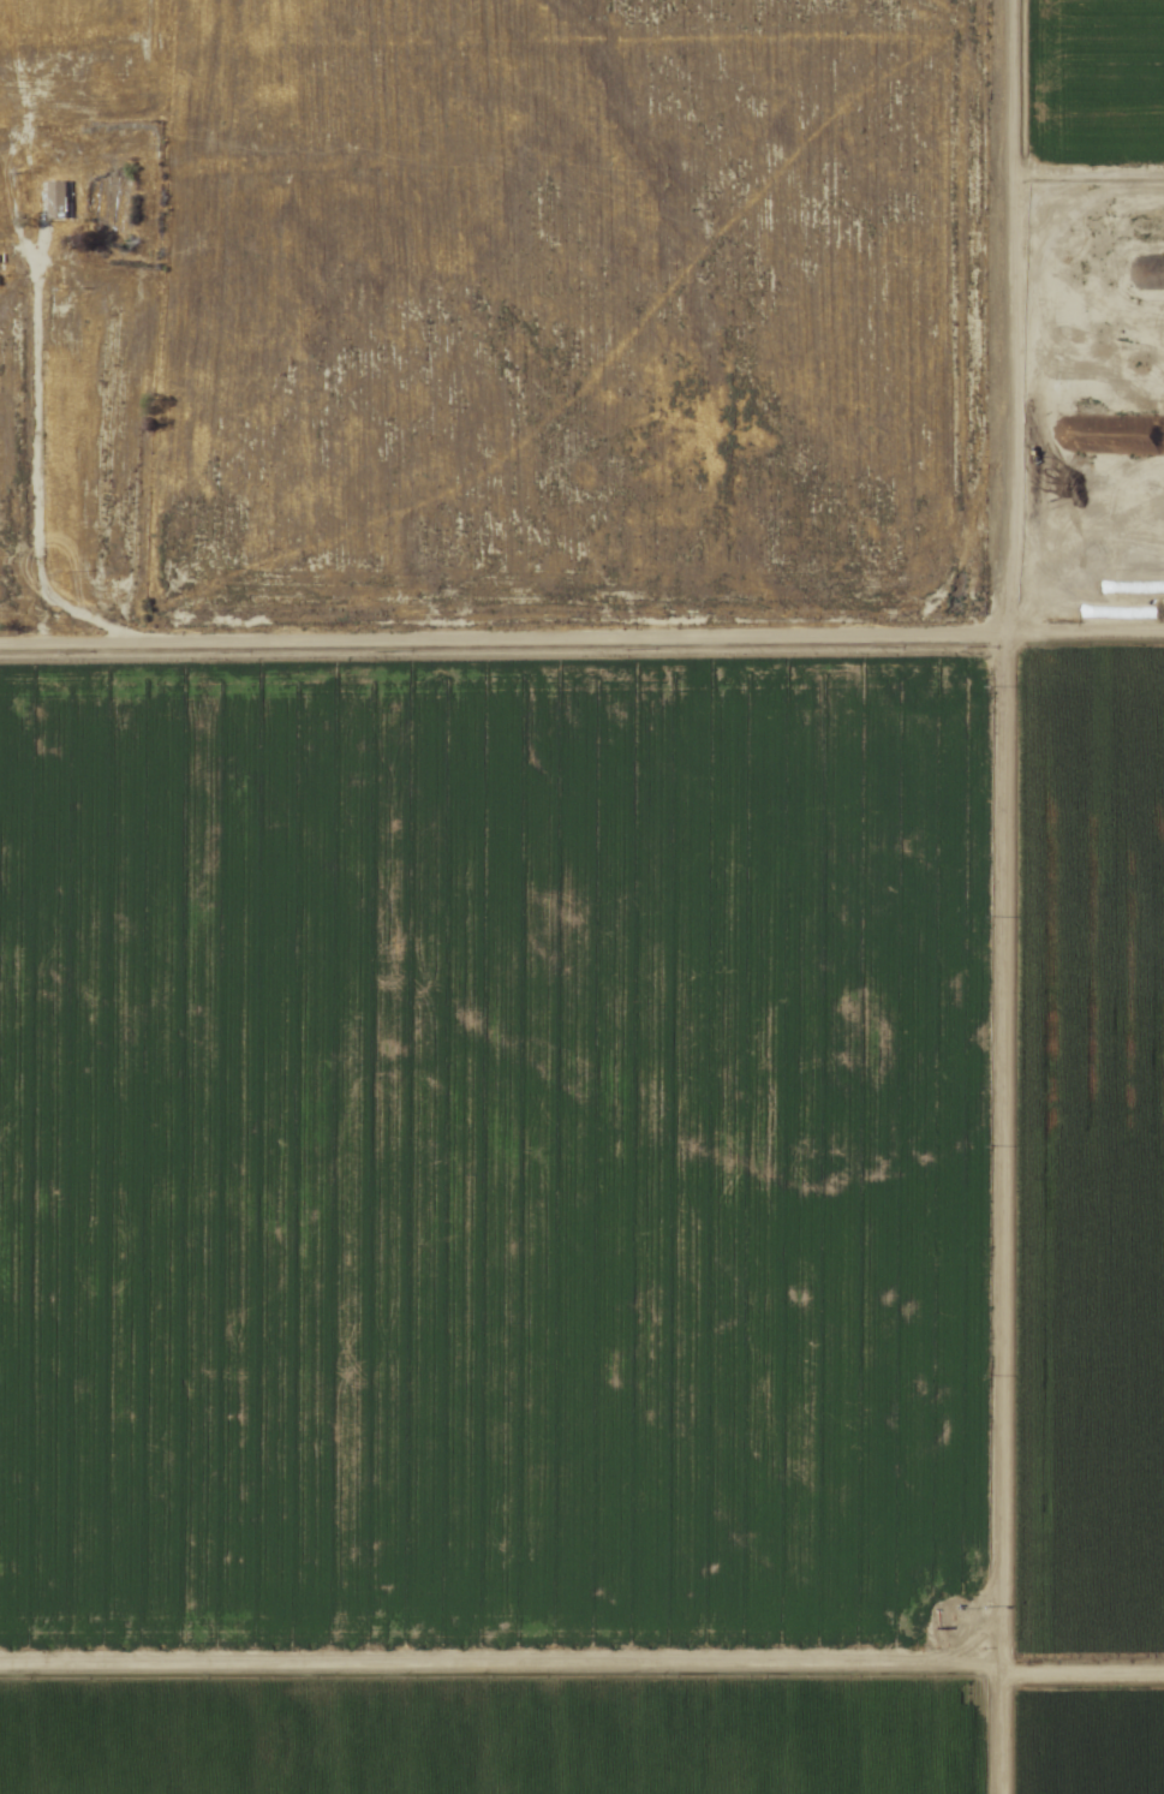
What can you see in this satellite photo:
building: (58, 201)
road: (501, 631)
road: (1084, 636)
road: (1002, 896)
road: (1081, 1668)

